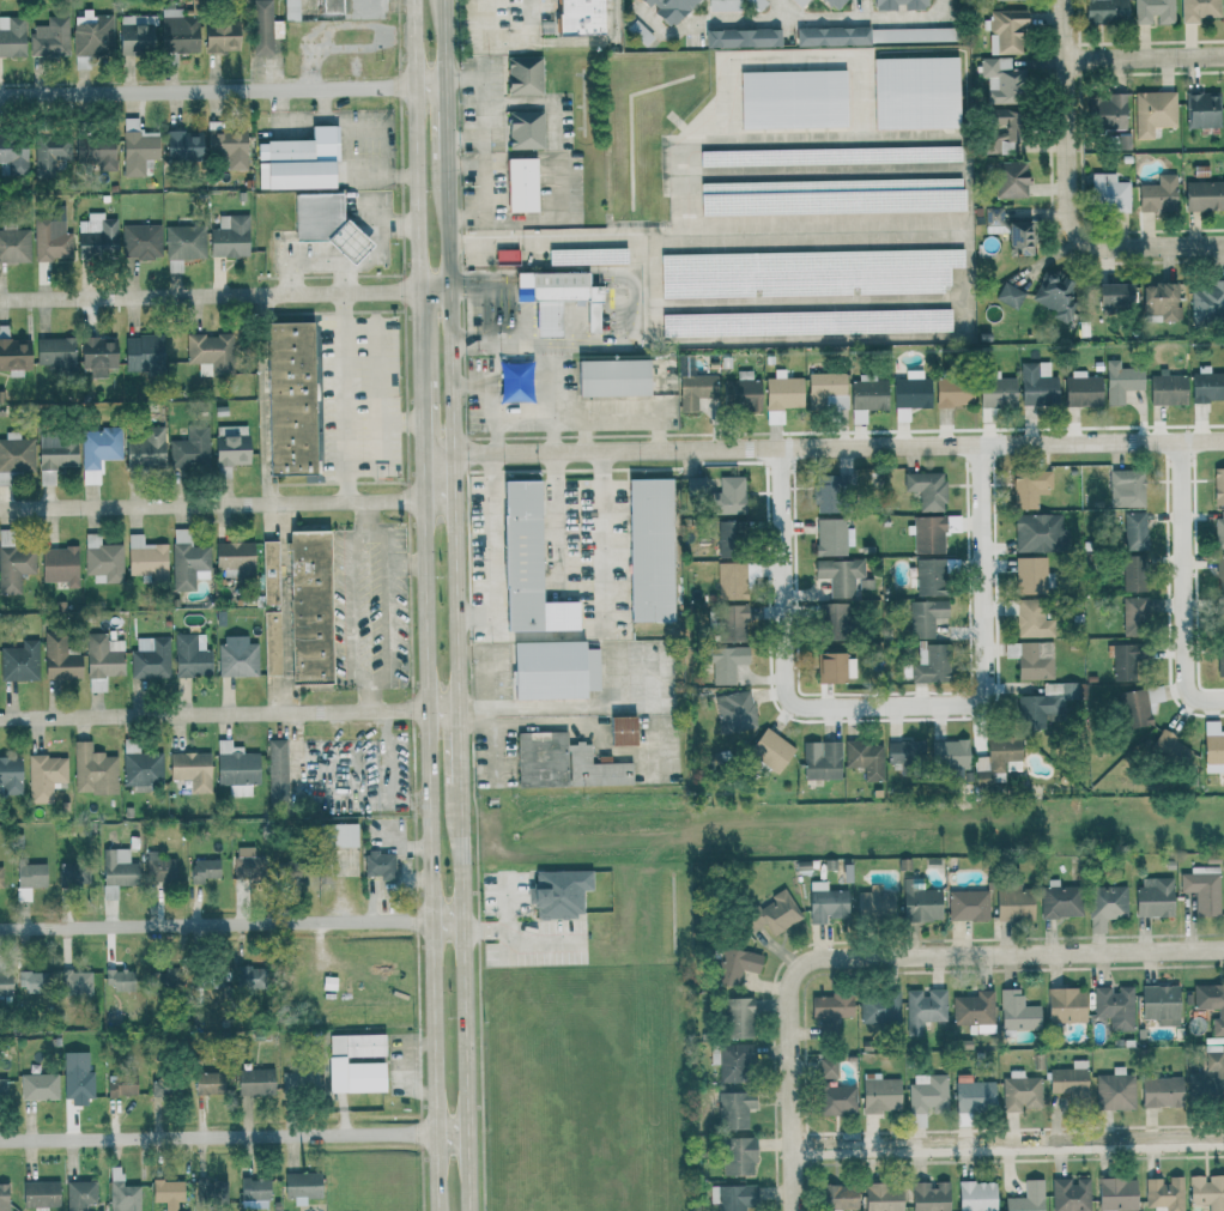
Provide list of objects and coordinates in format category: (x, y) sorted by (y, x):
building: (799, 2)
building: (896, 4)
building: (329, 6)
building: (667, 7)
building: (290, 10)
road: (784, 10)
road: (871, 10)
building: (1199, 10)
building: (1104, 11)
building: (1153, 11)
building: (577, 17)
road: (612, 19)
road: (485, 20)
road: (529, 20)
road: (789, 20)
building: (262, 28)
building: (176, 31)
building: (1005, 31)
building: (91, 34)
building: (134, 34)
building: (873, 35)
building: (12, 36)
building: (219, 36)
building: (49, 37)
building: (740, 37)
road: (549, 40)
road: (444, 42)
road: (1144, 52)
road: (731, 57)
building: (522, 74)
building: (999, 79)
road: (223, 90)
building: (915, 92)
building: (792, 98)
road: (325, 104)
building: (1201, 110)
building: (1105, 111)
building: (1153, 113)
road: (446, 126)
building: (523, 129)
building: (1011, 129)
road: (347, 133)
road: (874, 134)
road: (463, 138)
building: (182, 145)
road: (481, 146)
building: (137, 147)
building: (228, 147)
building: (95, 151)
building: (49, 152)
building: (12, 155)
building: (829, 156)
building: (296, 161)
road: (465, 165)
road: (824, 170)
building: (1010, 178)
building: (520, 184)
road: (419, 189)
building: (1108, 193)
road: (1066, 194)
building: (1157, 194)
building: (1202, 195)
building: (831, 196)
building: (993, 219)
building: (326, 224)
building: (50, 235)
building: (95, 235)
building: (229, 237)
building: (1018, 237)
road: (967, 238)
building: (140, 241)
building: (182, 244)
building: (14, 246)
building: (586, 255)
building: (806, 272)
building: (1113, 293)
road: (225, 295)
building: (1008, 295)
building: (1054, 295)
building: (559, 298)
road: (807, 299)
building: (1159, 301)
building: (1207, 301)
road: (505, 315)
building: (805, 322)
building: (143, 352)
building: (210, 353)
building: (54, 355)
building: (97, 355)
building: (14, 356)
building: (611, 377)
building: (1120, 381)
building: (1037, 383)
road: (483, 385)
building: (1206, 385)
building: (693, 389)
building: (996, 389)
building: (1081, 389)
building: (1167, 389)
road: (453, 390)
building: (826, 390)
building: (911, 390)
building: (740, 392)
building: (782, 392)
building: (953, 392)
building: (866, 396)
building: (289, 398)
road: (344, 398)
road: (265, 399)
road: (574, 413)
road: (423, 416)
road: (383, 420)
road: (550, 432)
road: (583, 432)
building: (230, 444)
building: (145, 448)
road: (824, 448)
building: (189, 449)
building: (97, 450)
building: (55, 452)
building: (16, 453)
building: (1218, 485)
building: (693, 486)
building: (1029, 488)
building: (1126, 488)
road: (580, 489)
building: (926, 490)
building: (727, 496)
building: (825, 498)
road: (228, 503)
road: (365, 515)
building: (1219, 528)
building: (1134, 531)
building: (1038, 533)
building: (927, 534)
building: (831, 537)
building: (649, 550)
road: (491, 551)
building: (234, 557)
building: (145, 558)
building: (101, 559)
road: (407, 562)
building: (59, 565)
building: (526, 565)
building: (14, 568)
building: (1219, 571)
building: (268, 573)
building: (1134, 574)
building: (840, 575)
building: (1029, 575)
building: (929, 576)
building: (731, 581)
road: (582, 582)
road: (1182, 586)
road: (388, 603)
building: (308, 606)
road: (352, 607)
building: (1134, 612)
building: (923, 617)
building: (830, 619)
building: (1031, 619)
road: (983, 620)
building: (731, 623)
road: (783, 624)
road: (561, 636)
building: (271, 643)
building: (189, 656)
building: (237, 656)
building: (1219, 656)
building: (150, 658)
building: (59, 659)
building: (1031, 659)
building: (102, 660)
building: (19, 661)
building: (1123, 661)
road: (458, 662)
building: (723, 662)
building: (929, 662)
building: (830, 667)
building: (552, 670)
road: (486, 679)
road: (370, 695)
building: (1043, 703)
road: (598, 706)
building: (1139, 706)
road: (472, 709)
building: (734, 712)
road: (229, 713)
building: (620, 729)
road: (492, 740)
road: (460, 745)
building: (1170, 747)
building: (1212, 747)
building: (769, 751)
building: (947, 753)
building: (904, 755)
building: (865, 758)
building: (996, 758)
building: (820, 759)
building: (562, 763)
building: (235, 768)
building: (91, 770)
building: (190, 770)
building: (275, 770)
building: (10, 775)
building: (43, 776)
road: (387, 776)
road: (430, 831)
building: (337, 835)
road: (398, 846)
building: (244, 862)
building: (377, 864)
building: (159, 868)
building: (202, 870)
building: (116, 872)
building: (290, 872)
building: (72, 873)
building: (0, 877)
building: (28, 879)
building: (1201, 889)
building: (557, 892)
building: (1153, 897)
building: (1059, 900)
building: (919, 901)
building: (1012, 901)
building: (825, 902)
building: (873, 903)
building: (967, 904)
building: (1105, 906)
building: (771, 914)
road: (231, 924)
road: (508, 928)
road: (544, 943)
road: (509, 946)
road: (1013, 953)
building: (734, 965)
building: (244, 976)
building: (156, 979)
building: (120, 980)
building: (32, 981)
building: (4, 983)
building: (74, 983)
road: (465, 997)
building: (1159, 1004)
building: (1211, 1004)
building: (1065, 1005)
building: (1115, 1006)
building: (878, 1009)
building: (923, 1009)
building: (975, 1011)
building: (1017, 1011)
building: (829, 1012)
building: (737, 1017)
building: (731, 1061)
building: (353, 1062)
road: (411, 1067)
building: (826, 1067)
building: (75, 1076)
building: (1206, 1077)
building: (1070, 1080)
building: (254, 1082)
building: (298, 1082)
building: (207, 1083)
building: (120, 1084)
road: (790, 1085)
building: (37, 1086)
building: (164, 1086)
building: (2, 1089)
building: (1115, 1090)
building: (1161, 1091)
building: (927, 1092)
building: (1019, 1092)
building: (879, 1094)
building: (972, 1094)
building: (835, 1100)
building: (733, 1109)
road: (234, 1136)
road: (1007, 1143)
building: (737, 1156)
building: (301, 1186)
building: (1207, 1191)
building: (121, 1192)
building: (211, 1192)
building: (166, 1193)
building: (254, 1193)
building: (38, 1194)
building: (79, 1194)
building: (1070, 1194)
building: (1116, 1194)
building: (1164, 1194)
building: (928, 1195)
building: (975, 1195)
building: (4, 1197)
building: (881, 1197)
building: (732, 1198)
building: (838, 1198)
building: (1026, 1198)

